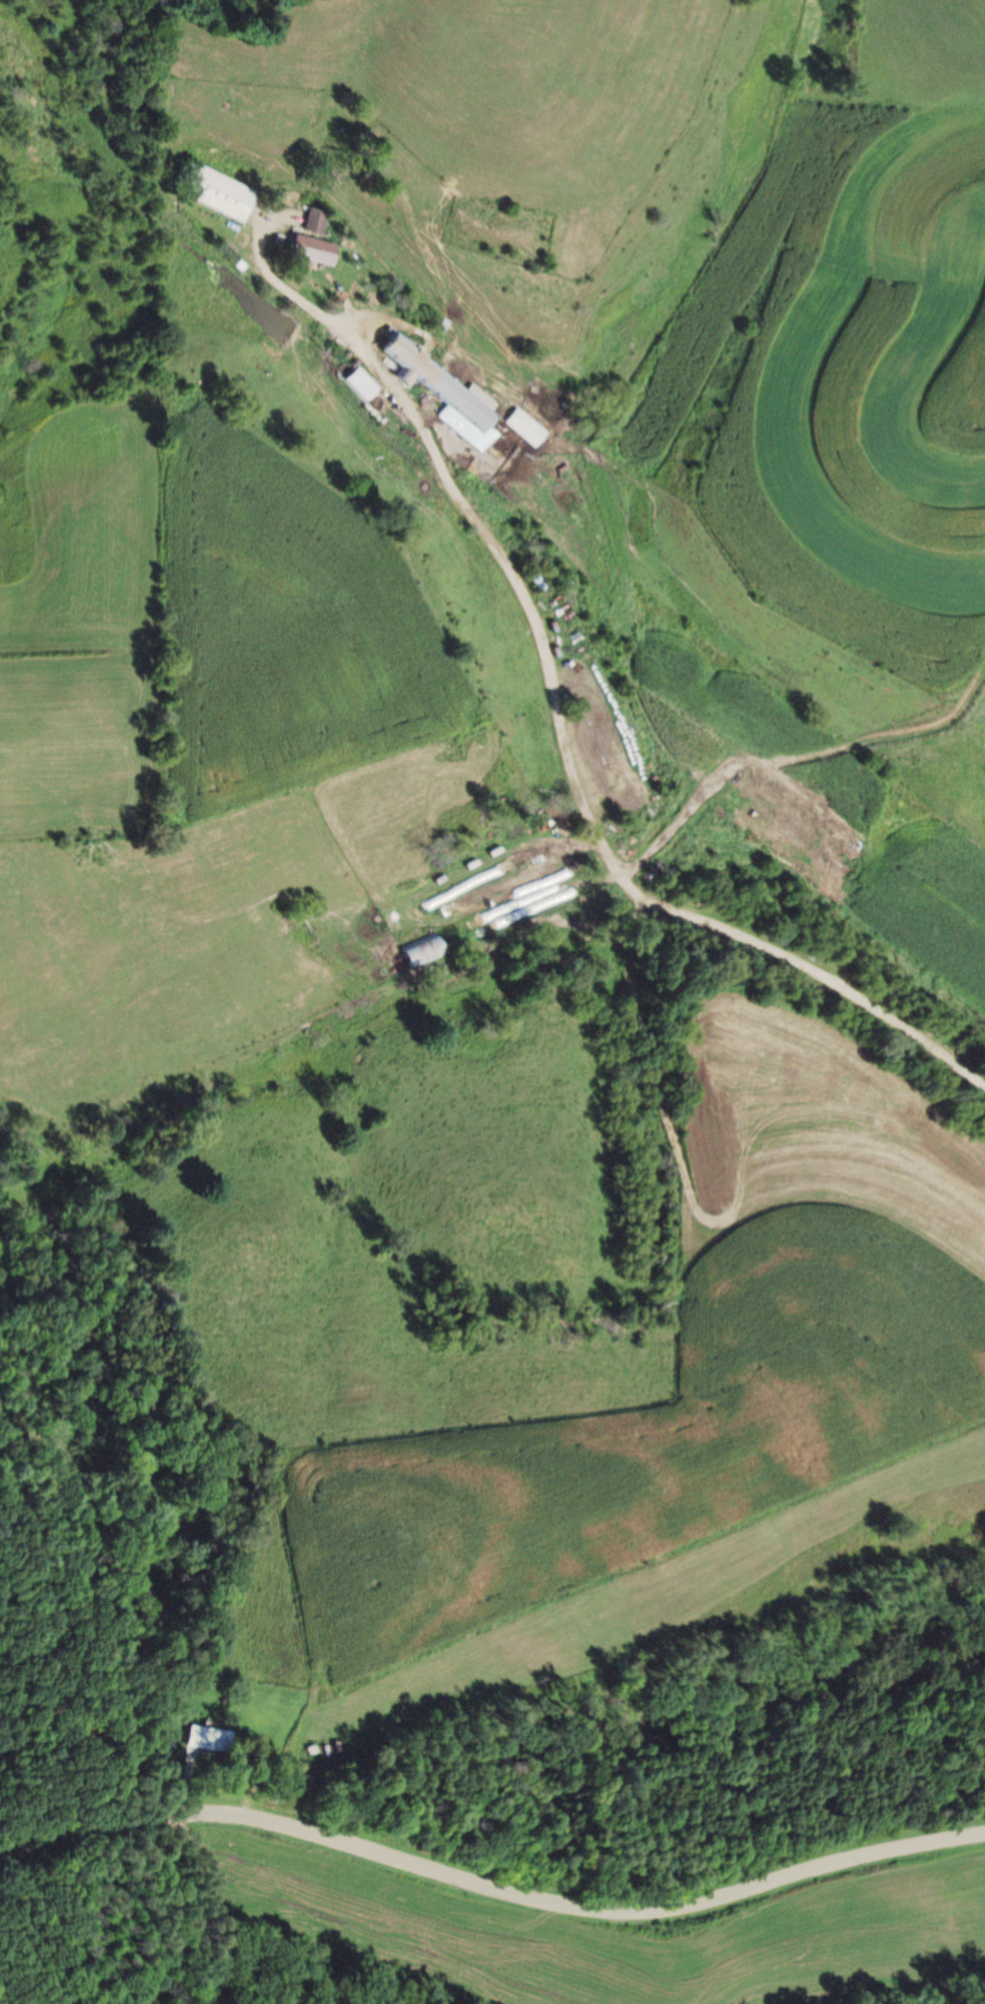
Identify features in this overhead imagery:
building: (225, 193)
building: (323, 221)
building: (323, 250)
building: (447, 384)
building: (532, 429)
road: (572, 785)
building: (430, 950)
building: (215, 1740)
road: (491, 1890)

